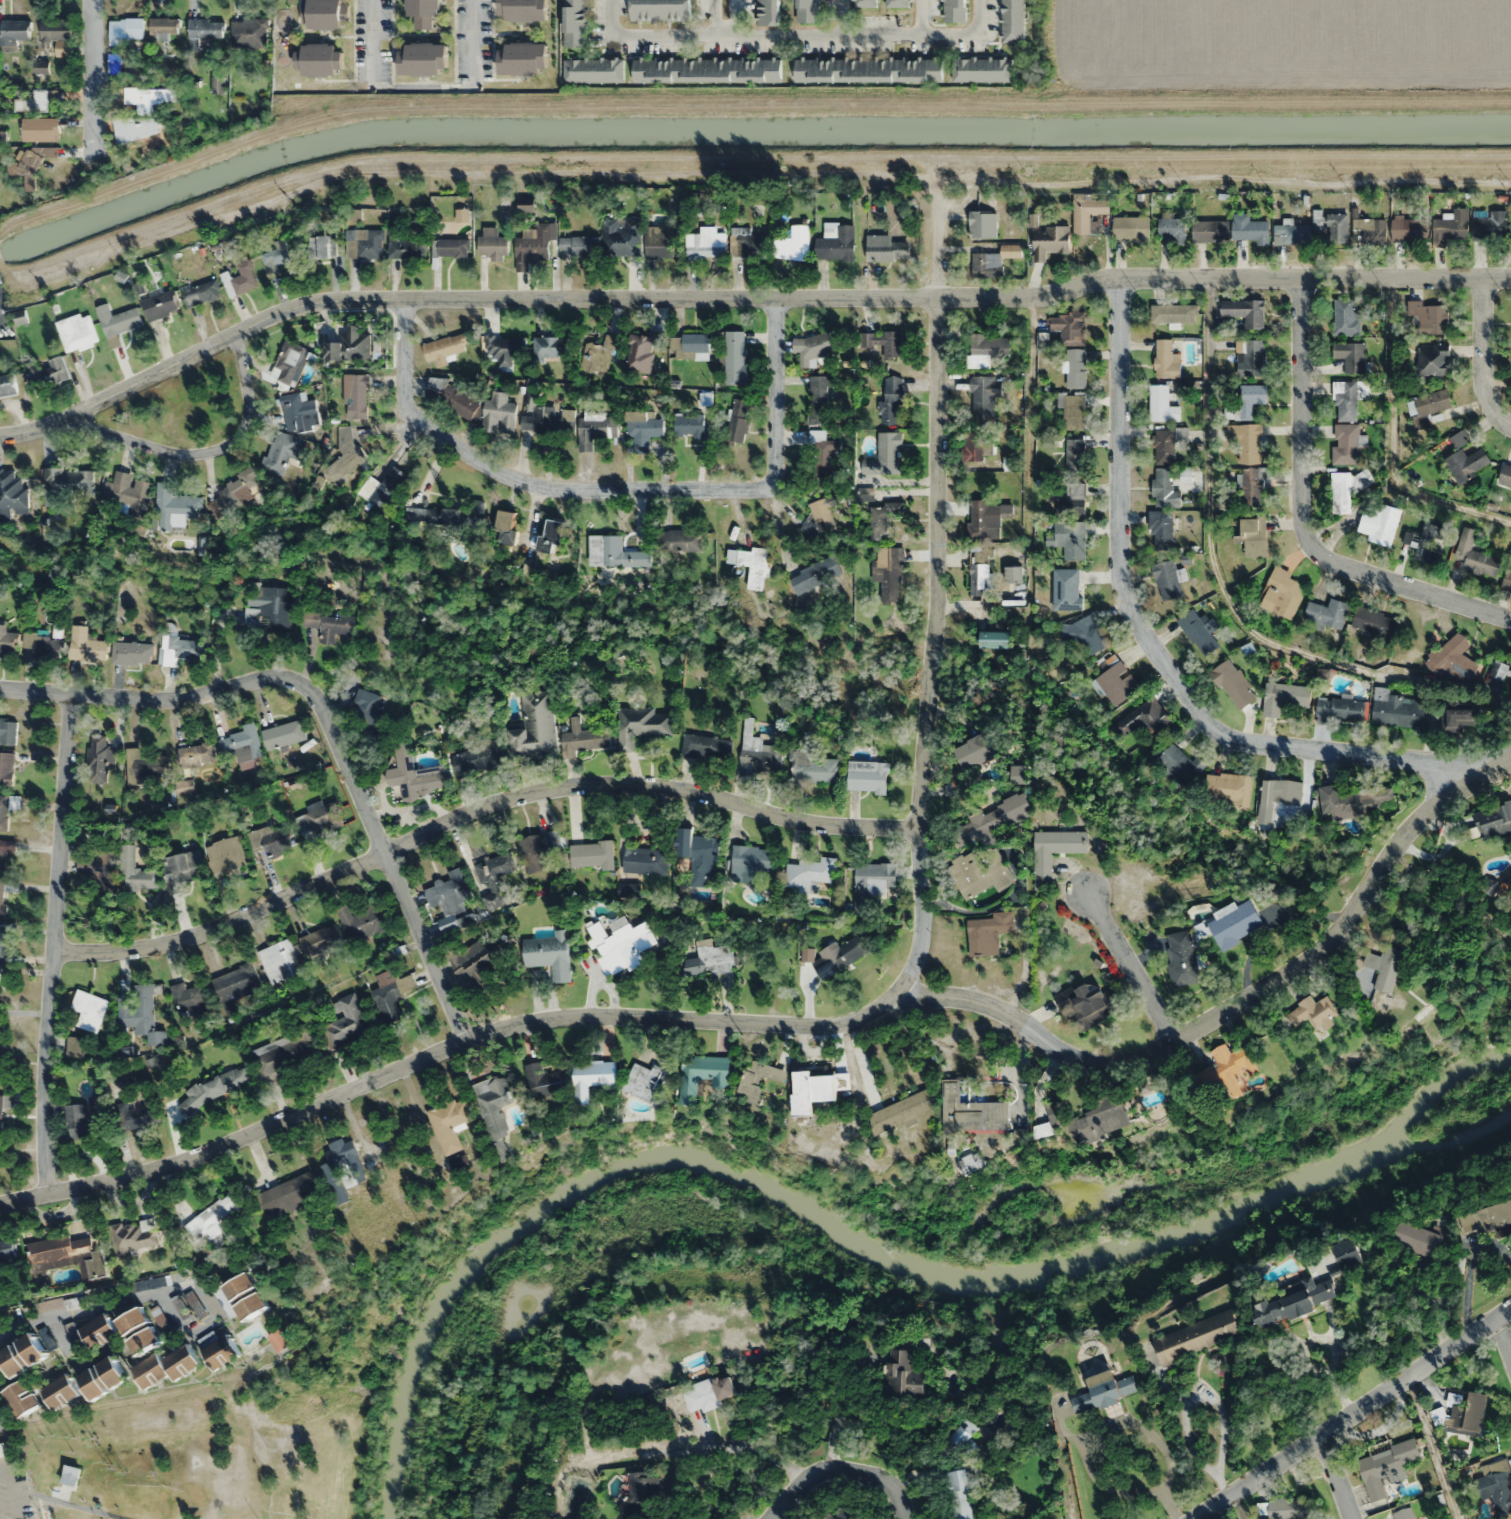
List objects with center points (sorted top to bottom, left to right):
building: (864, 3)
building: (897, 3)
building: (522, 10)
building: (660, 10)
building: (954, 10)
building: (807, 11)
building: (423, 12)
building: (767, 12)
building: (321, 14)
road: (710, 17)
road: (736, 17)
road: (842, 17)
road: (920, 17)
building: (1012, 21)
building: (574, 22)
building: (165, 28)
building: (55, 29)
building: (125, 29)
building: (204, 30)
building: (14, 32)
building: (249, 32)
road: (789, 34)
road: (472, 36)
road: (373, 40)
building: (423, 58)
building: (522, 58)
building: (319, 59)
building: (114, 66)
building: (41, 68)
building: (868, 68)
building: (706, 69)
building: (982, 69)
building: (592, 70)
road: (93, 75)
building: (148, 97)
building: (39, 101)
building: (136, 128)
building: (40, 129)
building: (25, 162)
building: (1087, 213)
building: (983, 224)
building: (1510, 225)
building: (1490, 226)
building: (1128, 227)
building: (1337, 227)
building: (1451, 227)
building: (1173, 228)
building: (1252, 228)
building: (1410, 228)
building: (1211, 230)
building: (1372, 230)
building: (1292, 233)
building: (623, 236)
building: (709, 237)
building: (660, 241)
building: (1049, 241)
building: (364, 243)
building: (400, 243)
building: (749, 244)
building: (795, 244)
building: (836, 244)
building: (493, 245)
building: (577, 245)
building: (321, 246)
building: (533, 246)
building: (452, 248)
building: (886, 248)
building: (276, 256)
building: (986, 262)
building: (244, 278)
building: (201, 293)
road: (742, 296)
building: (160, 305)
building: (1245, 311)
building: (1174, 313)
building: (24, 314)
building: (1346, 317)
building: (1429, 317)
building: (117, 322)
building: (1069, 327)
building: (77, 332)
building: (656, 340)
building: (884, 342)
building: (351, 346)
building: (695, 346)
building: (813, 346)
building: (553, 347)
building: (445, 348)
building: (506, 349)
building: (987, 349)
building: (636, 353)
building: (597, 355)
building: (1350, 355)
road: (1481, 355)
building: (735, 356)
building: (1250, 357)
building: (1433, 359)
building: (1166, 360)
building: (291, 363)
building: (1076, 368)
building: (45, 370)
building: (7, 385)
building: (984, 395)
building: (357, 396)
building: (1251, 398)
building: (1347, 398)
building: (452, 399)
building: (818, 399)
building: (891, 400)
building: (1159, 402)
park: (182, 405)
building: (1429, 405)
building: (298, 412)
building: (1074, 412)
building: (499, 414)
building: (567, 420)
building: (539, 421)
building: (738, 422)
building: (688, 425)
building: (596, 428)
building: (643, 429)
building: (1246, 441)
building: (1346, 443)
building: (974, 446)
building: (1164, 447)
road: (203, 451)
building: (284, 452)
building: (820, 453)
building: (1075, 456)
building: (885, 457)
building: (1465, 457)
building: (1505, 475)
building: (68, 479)
building: (382, 486)
building: (1251, 487)
building: (1347, 487)
building: (1164, 488)
road: (616, 490)
building: (128, 491)
building: (237, 491)
building: (11, 493)
building: (1072, 498)
building: (175, 508)
building: (448, 515)
building: (883, 518)
building: (988, 518)
road: (1302, 518)
building: (1380, 524)
building: (505, 528)
building: (1162, 530)
building: (552, 536)
building: (1255, 537)
building: (1071, 539)
building: (681, 540)
building: (1429, 543)
building: (615, 553)
building: (1475, 555)
building: (751, 565)
building: (887, 572)
building: (980, 572)
building: (815, 575)
building: (1014, 575)
building: (1167, 580)
building: (1507, 581)
building: (1069, 589)
building: (1282, 593)
building: (269, 607)
road: (936, 609)
building: (1328, 614)
building: (1375, 622)
building: (329, 625)
building: (1199, 631)
building: (1089, 635)
building: (8, 640)
building: (996, 640)
building: (86, 645)
building: (45, 646)
building: (184, 647)
road: (1156, 649)
building: (133, 653)
building: (1454, 658)
building: (1501, 669)
building: (1116, 683)
building: (1233, 684)
building: (1285, 697)
building: (367, 709)
building: (1339, 709)
building: (1397, 709)
building: (1459, 716)
road: (327, 719)
building: (1144, 719)
building: (640, 725)
building: (535, 728)
building: (8, 731)
building: (284, 733)
building: (583, 739)
building: (239, 741)
building: (706, 747)
building: (976, 751)
building: (200, 753)
building: (758, 754)
building: (98, 758)
building: (476, 759)
building: (146, 766)
building: (1180, 766)
building: (811, 767)
building: (6, 768)
building: (412, 774)
building: (867, 776)
building: (1233, 787)
building: (1281, 792)
building: (1358, 798)
road: (477, 811)
building: (4, 812)
building: (319, 818)
building: (993, 818)
building: (1494, 820)
building: (271, 839)
building: (540, 848)
building: (1054, 849)
building: (6, 850)
building: (226, 854)
building: (698, 854)
building: (592, 855)
building: (645, 860)
building: (750, 860)
building: (102, 867)
building: (182, 869)
building: (135, 871)
building: (808, 874)
building: (980, 874)
building: (494, 877)
building: (871, 884)
building: (2, 895)
building: (451, 899)
building: (362, 922)
building: (1235, 923)
building: (988, 930)
building: (2, 936)
building: (320, 940)
road: (56, 944)
building: (620, 947)
building: (549, 953)
building: (840, 956)
building: (481, 957)
building: (1182, 958)
building: (708, 959)
building: (279, 961)
road: (1131, 961)
building: (234, 985)
building: (391, 995)
building: (188, 998)
building: (1090, 1002)
building: (87, 1011)
building: (1312, 1011)
building: (138, 1014)
building: (347, 1021)
road: (809, 1025)
building: (74, 1046)
building: (285, 1050)
building: (1227, 1071)
building: (702, 1074)
building: (592, 1077)
building: (758, 1079)
building: (543, 1080)
building: (644, 1081)
building: (816, 1085)
building: (215, 1087)
building: (494, 1106)
building: (0, 1107)
building: (900, 1111)
building: (972, 1111)
building: (1055, 1112)
building: (138, 1113)
building: (86, 1118)
building: (1100, 1118)
building: (449, 1124)
building: (287, 1195)
building: (1486, 1217)
building: (213, 1222)
building: (133, 1236)
building: (1417, 1239)
building: (7, 1250)
building: (1347, 1252)
building: (68, 1254)
building: (242, 1296)
building: (1294, 1301)
road: (80, 1311)
road: (213, 1317)
building: (139, 1330)
building: (99, 1331)
road: (62, 1334)
building: (1198, 1335)
road: (1504, 1335)
building: (280, 1339)
building: (218, 1346)
building: (22, 1354)
building: (166, 1366)
building: (904, 1374)
building: (102, 1377)
building: (1105, 1390)
building: (60, 1391)
building: (711, 1392)
building: (20, 1398)
road: (1350, 1413)
building: (1464, 1415)
park: (216, 1446)
road: (1432, 1447)
building: (2, 1449)
building: (1385, 1467)
road: (838, 1473)
road: (1335, 1476)
building: (1497, 1485)
road: (1064, 1486)
parking lot: (15, 1490)
road: (13, 1492)
building: (958, 1494)
road: (22, 1495)
building: (640, 1497)
road: (1235, 1504)
road: (79, 1506)
building: (1284, 1508)
building: (1405, 1513)
building: (841, 1515)

